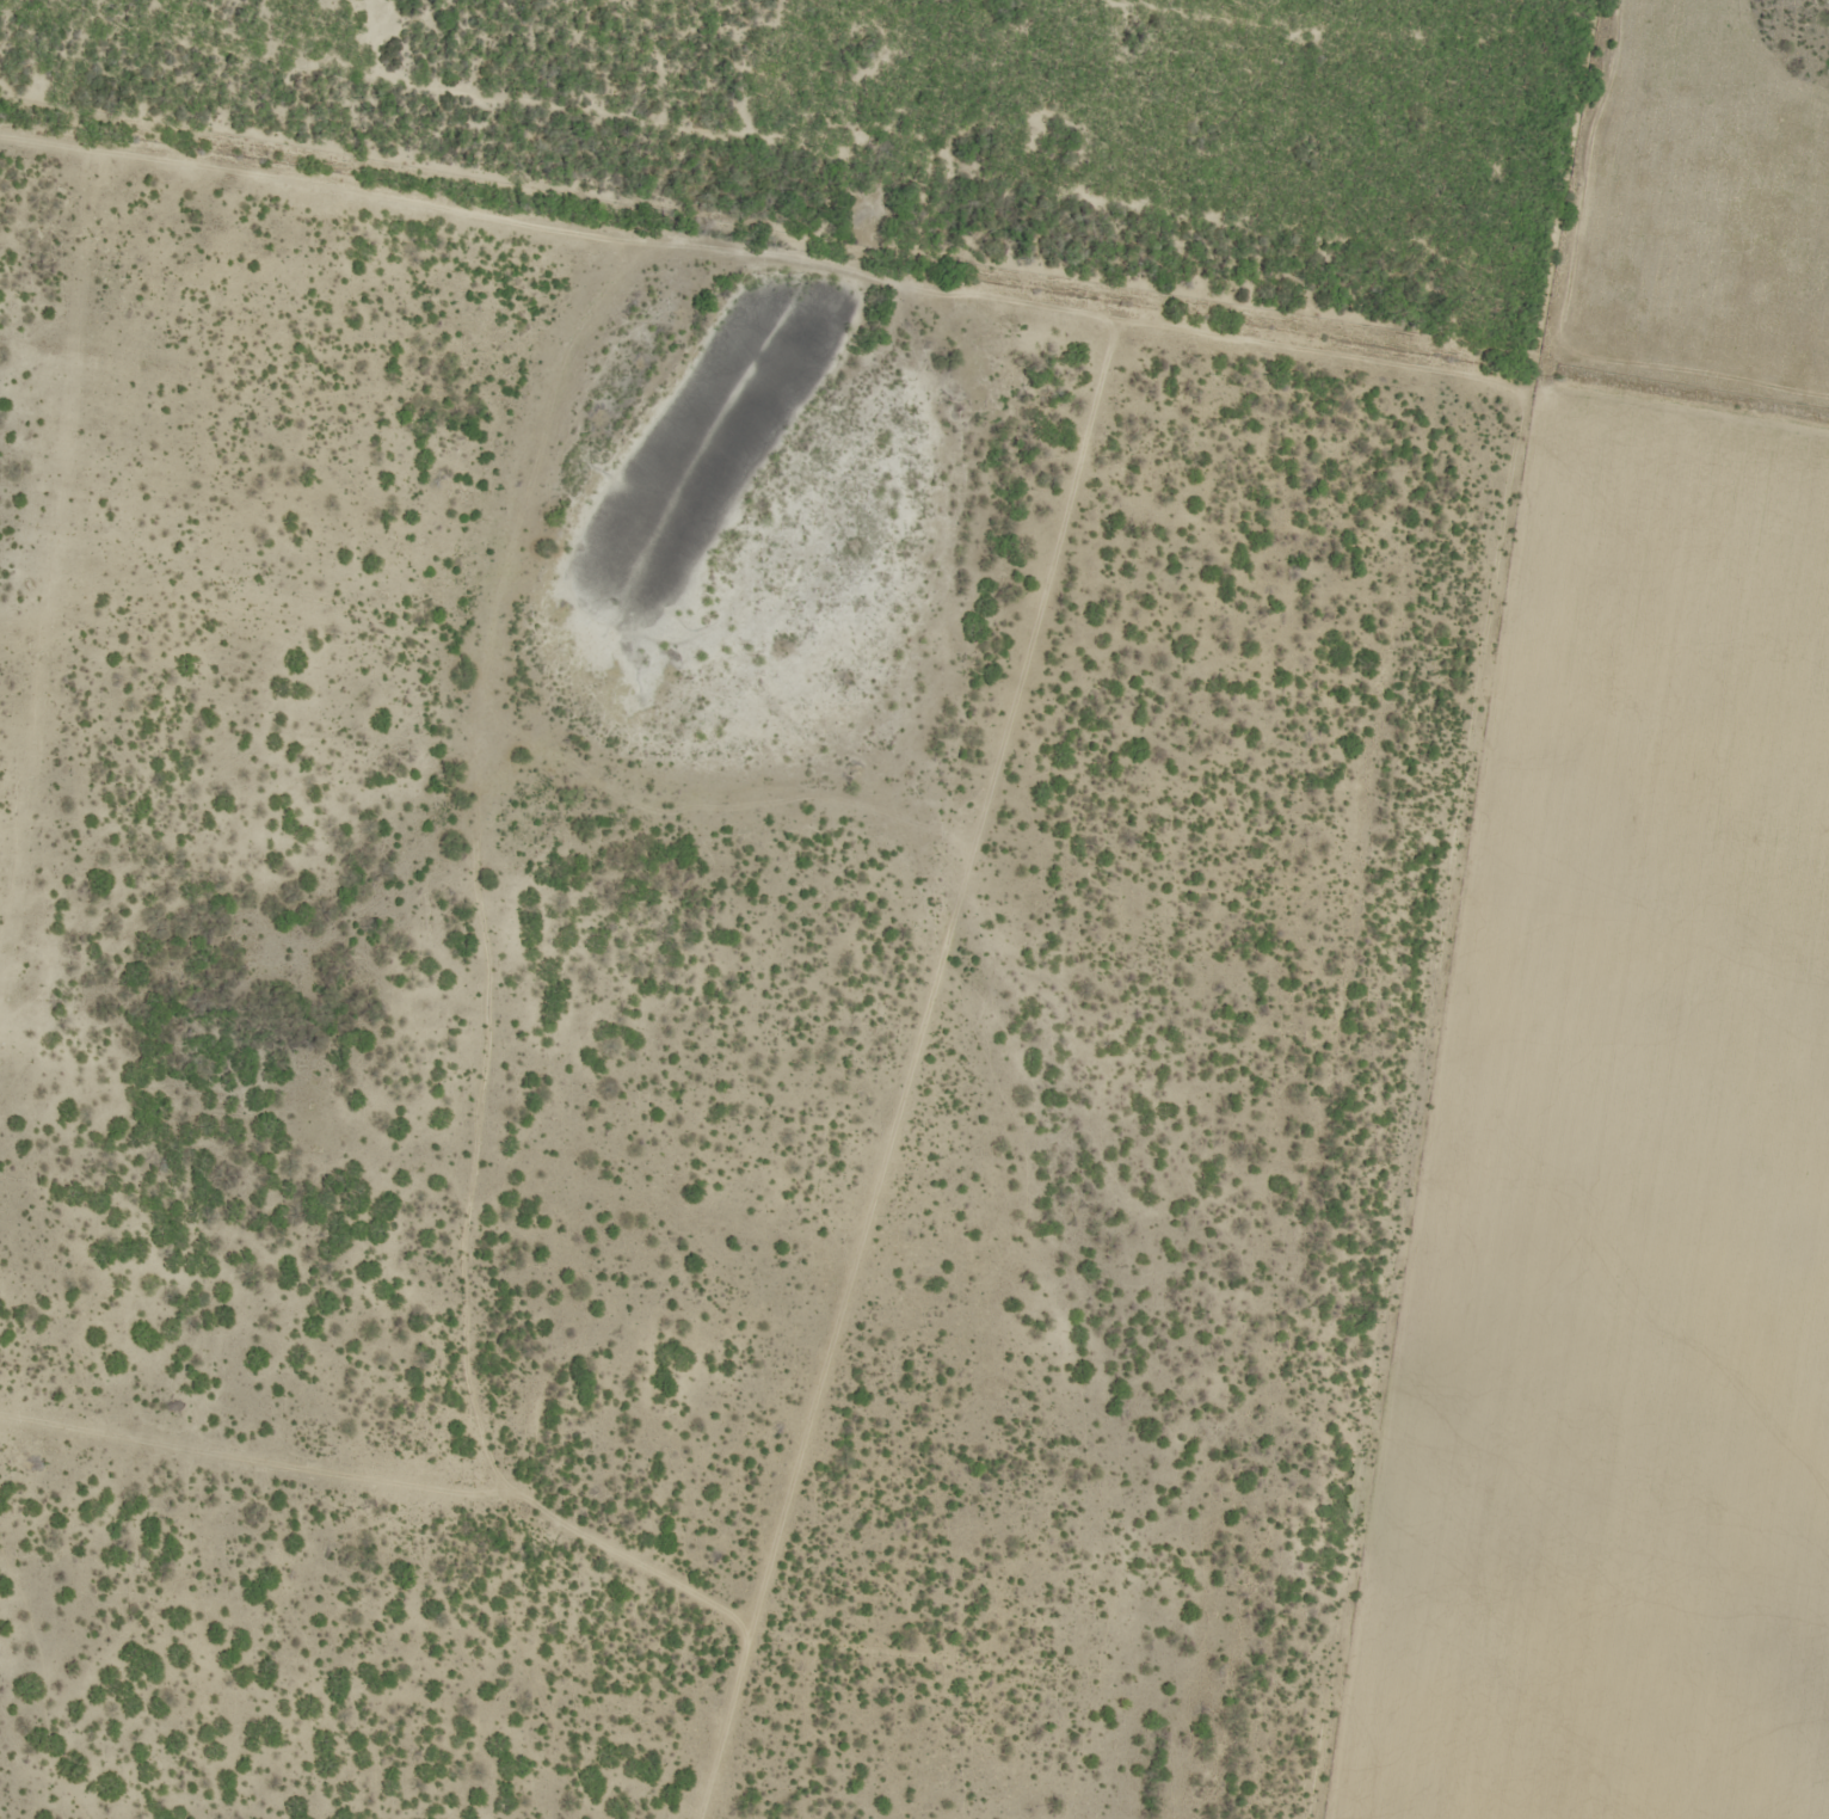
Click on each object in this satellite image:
road: (1492, 26)
road: (1502, 55)
road: (914, 254)

